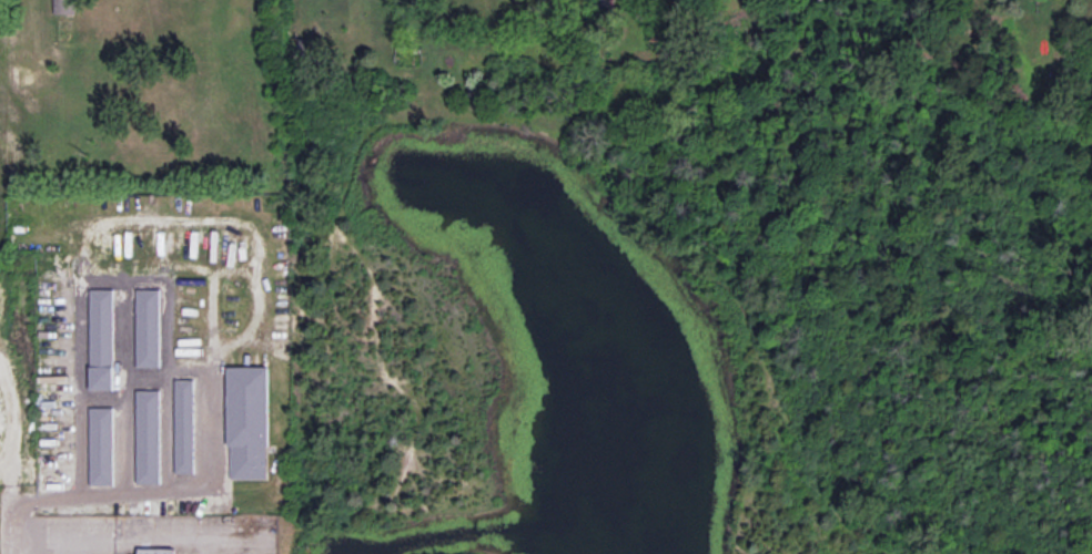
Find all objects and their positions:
building: (63, 7)
road: (259, 247)
building: (146, 327)
building: (100, 338)
building: (246, 422)
building: (183, 424)
building: (148, 435)
building: (100, 445)
road: (13, 525)
road: (175, 540)
road: (64, 545)
building: (155, 551)

